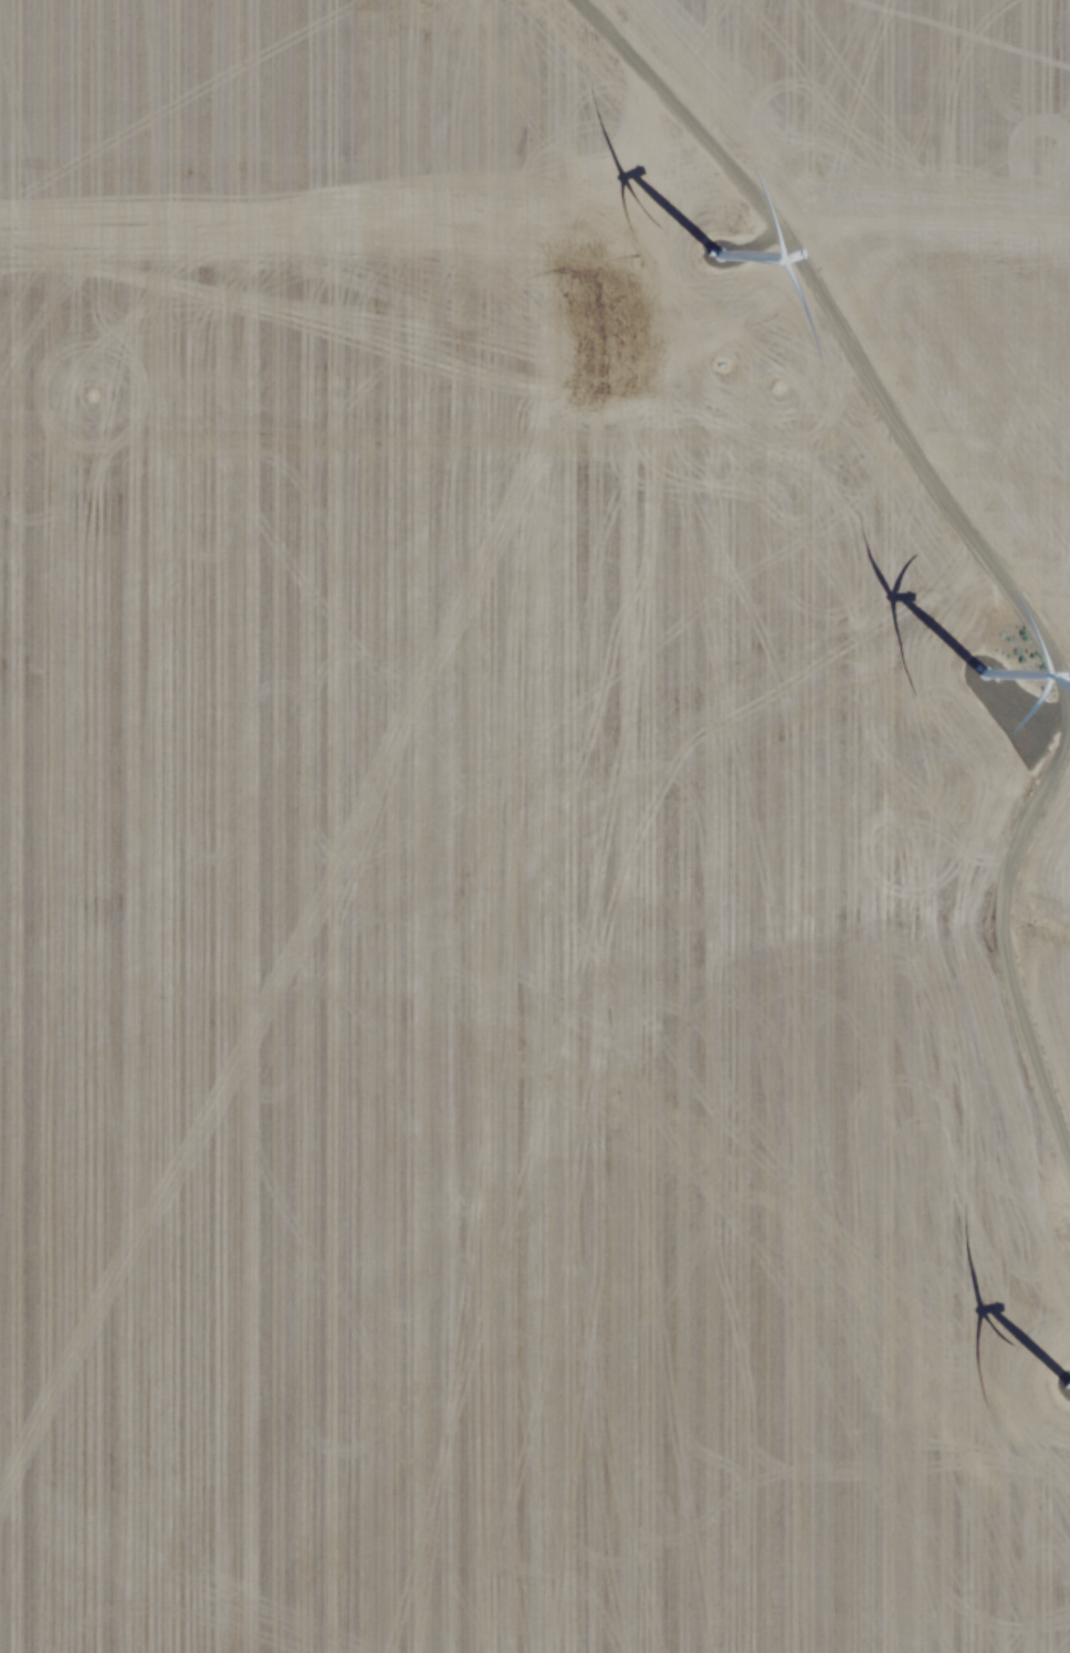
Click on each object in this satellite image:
wind turbine: (710, 264)
road: (982, 543)
wind turbine: (977, 682)

